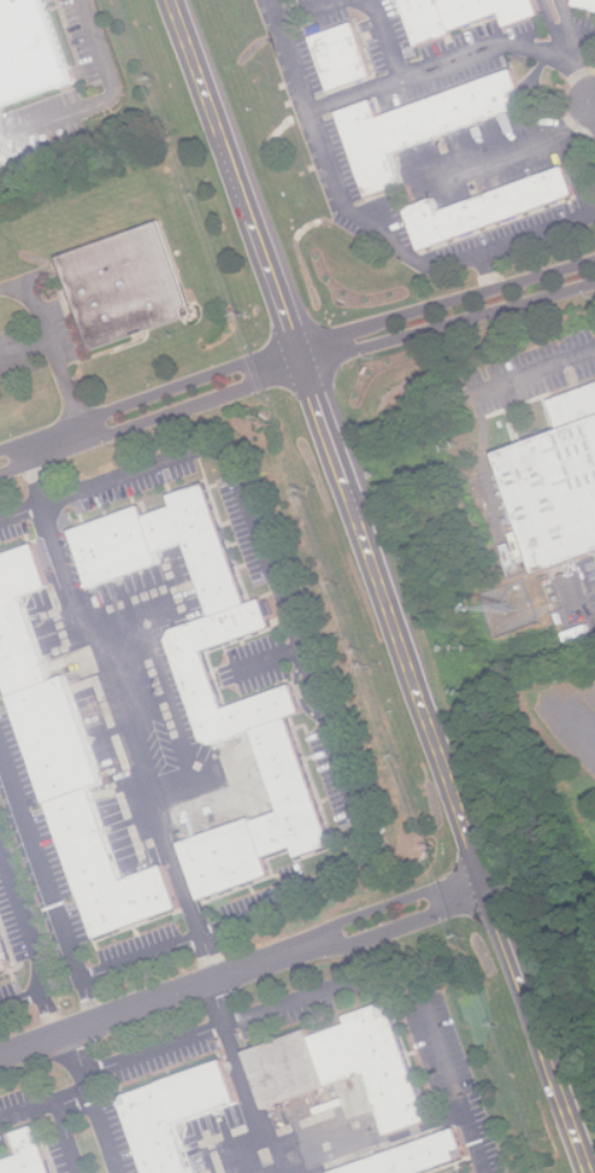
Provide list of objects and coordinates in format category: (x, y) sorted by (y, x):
building: (588, 4)
road: (307, 10)
building: (467, 13)
road: (496, 45)
road: (587, 47)
road: (577, 49)
building: (30, 53)
building: (346, 57)
road: (394, 78)
road: (104, 99)
building: (424, 125)
road: (495, 154)
road: (343, 201)
road: (590, 203)
building: (494, 204)
building: (126, 285)
road: (294, 357)
road: (538, 366)
road: (60, 369)
building: (558, 483)
road: (20, 510)
building: (129, 541)
building: (212, 549)
road: (382, 586)
road: (588, 603)
building: (23, 618)
road: (297, 646)
building: (198, 665)
road: (125, 711)
building: (61, 738)
building: (293, 793)
building: (231, 857)
building: (111, 869)
road: (48, 885)
road: (473, 888)
road: (384, 904)
road: (391, 929)
road: (33, 945)
building: (6, 952)
road: (142, 956)
road: (343, 991)
road: (157, 998)
road: (20, 999)
road: (79, 1057)
building: (347, 1065)
road: (245, 1075)
road: (45, 1099)
building: (179, 1113)
road: (106, 1128)
road: (64, 1136)
building: (30, 1153)
building: (417, 1156)

